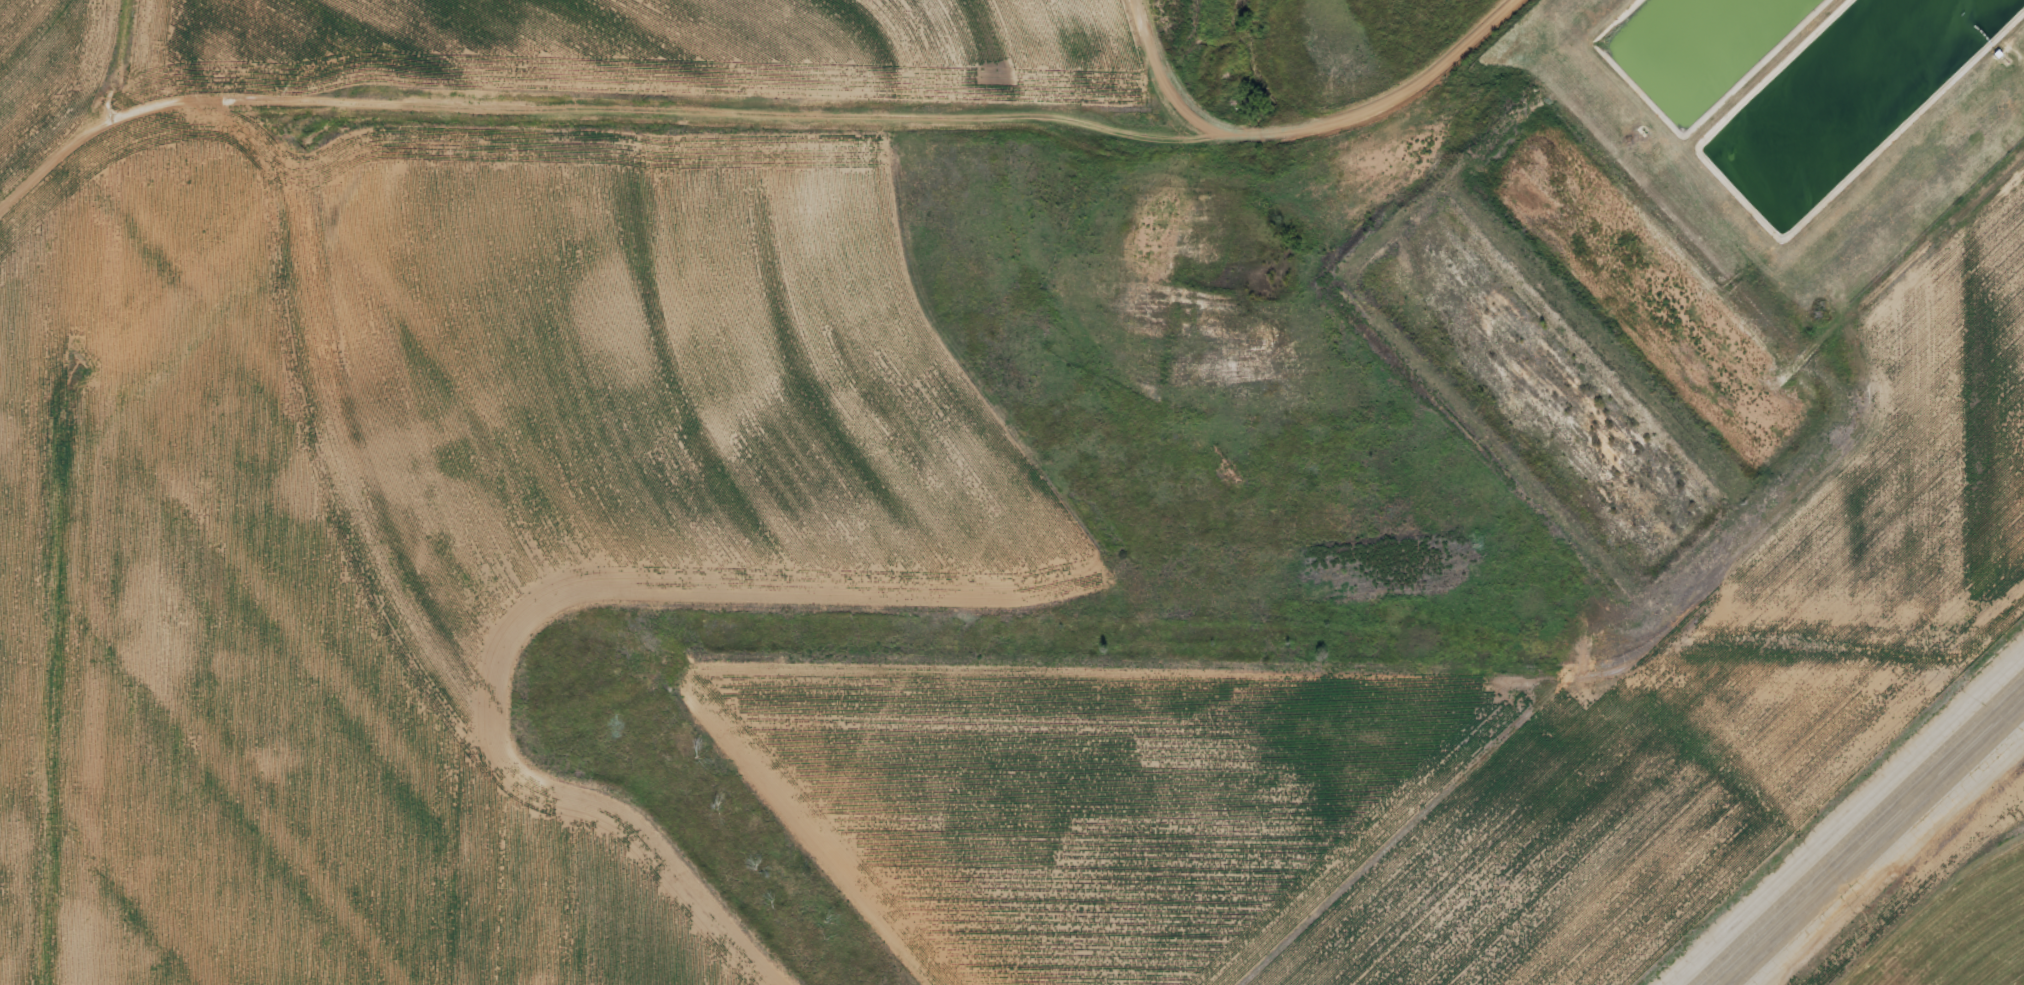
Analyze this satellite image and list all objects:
road: (588, 114)
road: (1305, 132)
airport: (1056, 551)
airport runway: (1867, 836)
crop: (1953, 928)

